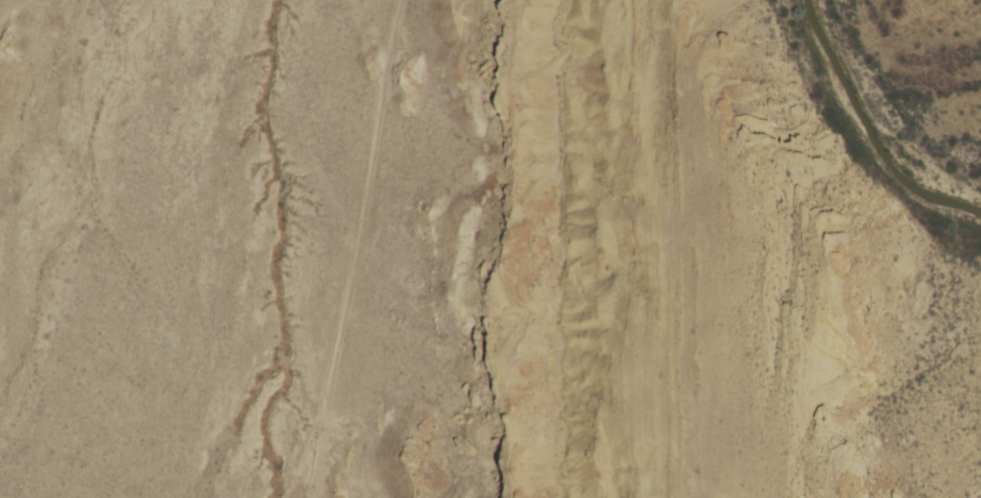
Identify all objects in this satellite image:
river: (874, 128)

